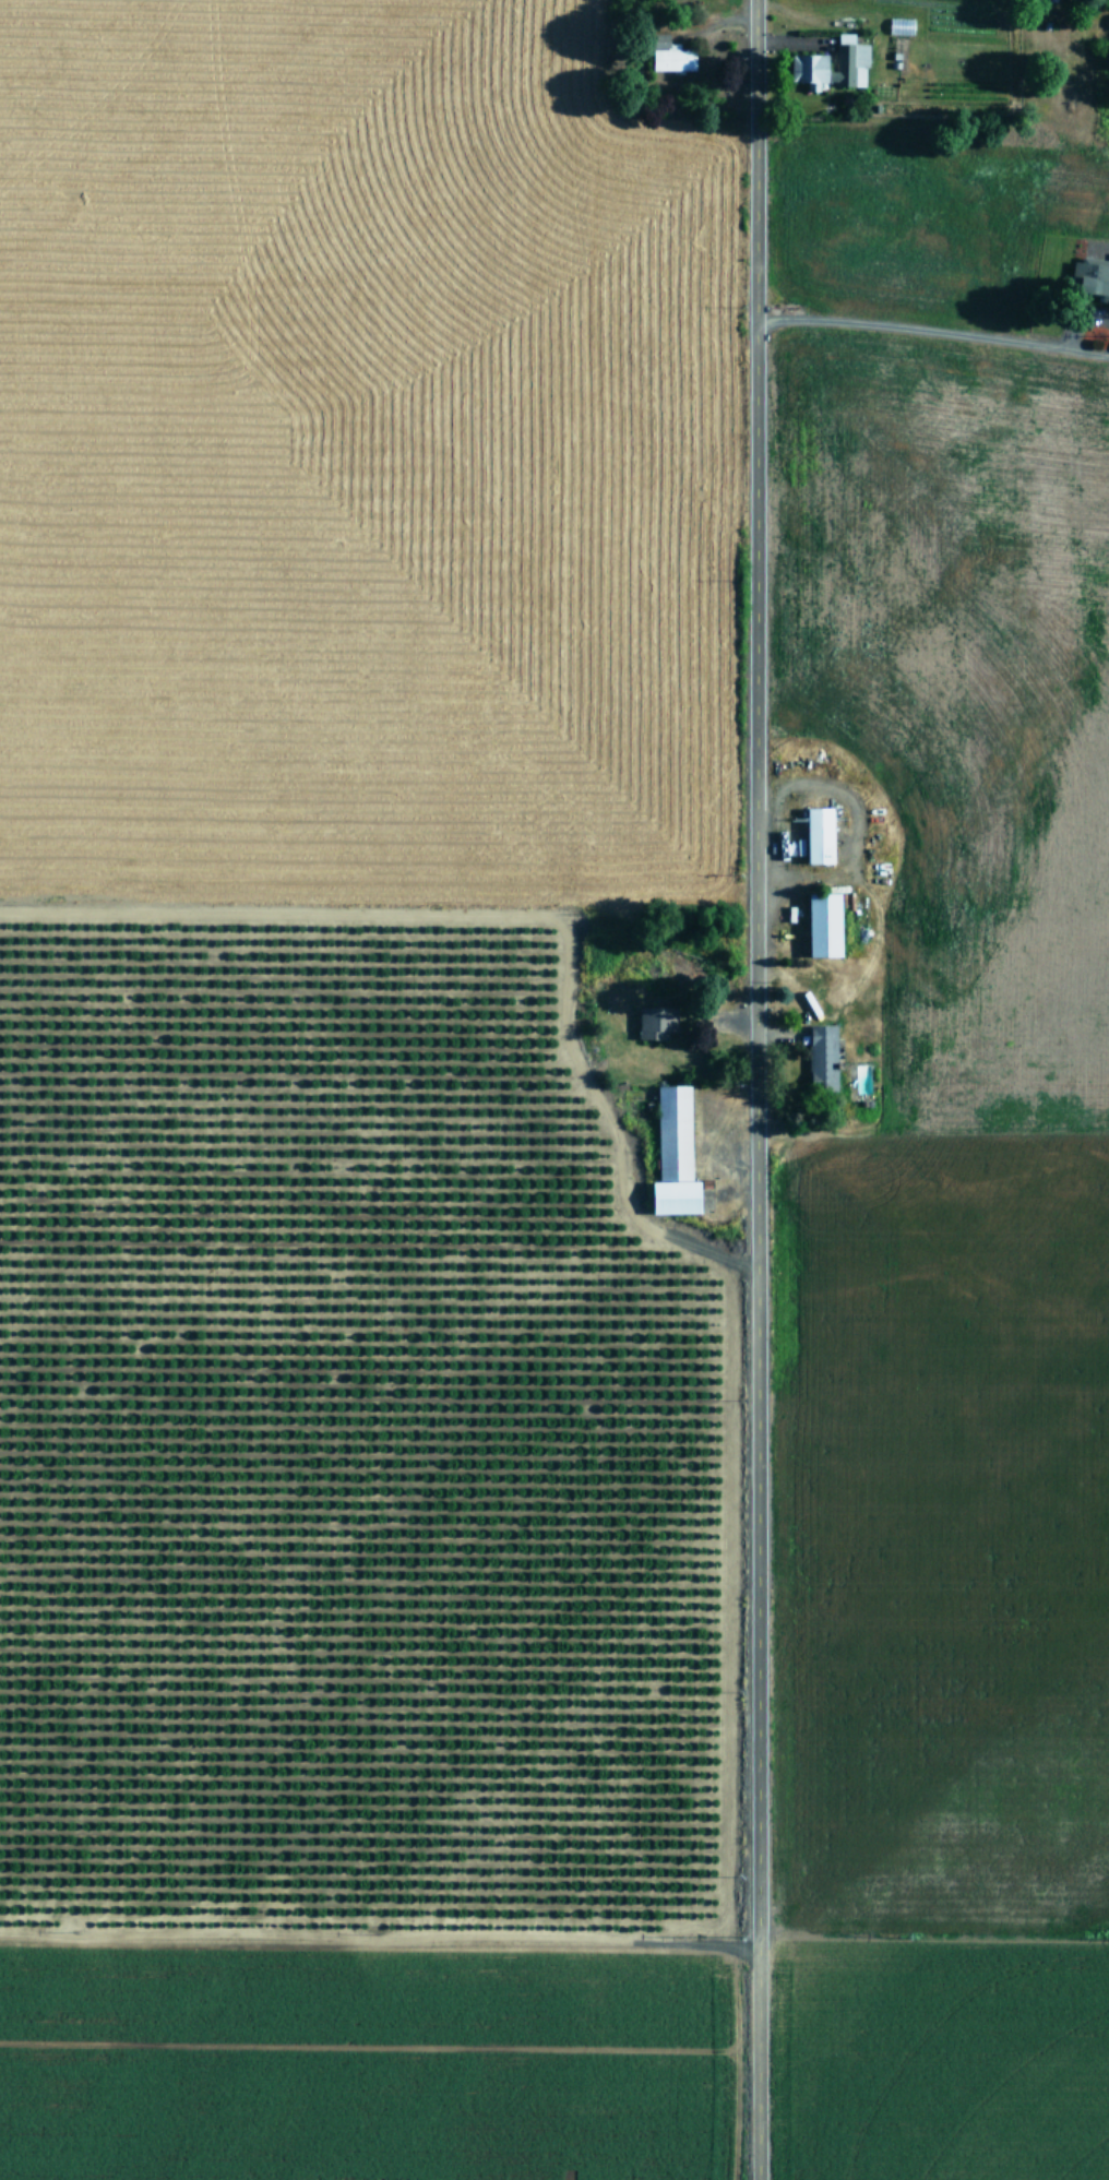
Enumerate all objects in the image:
building: (671, 56)
building: (809, 62)
building: (1090, 277)
road: (932, 364)
building: (820, 835)
building: (824, 925)
building: (656, 1022)
building: (822, 1057)
road: (756, 1089)
crop: (550, 1096)
building: (675, 1154)
road: (379, 1951)

